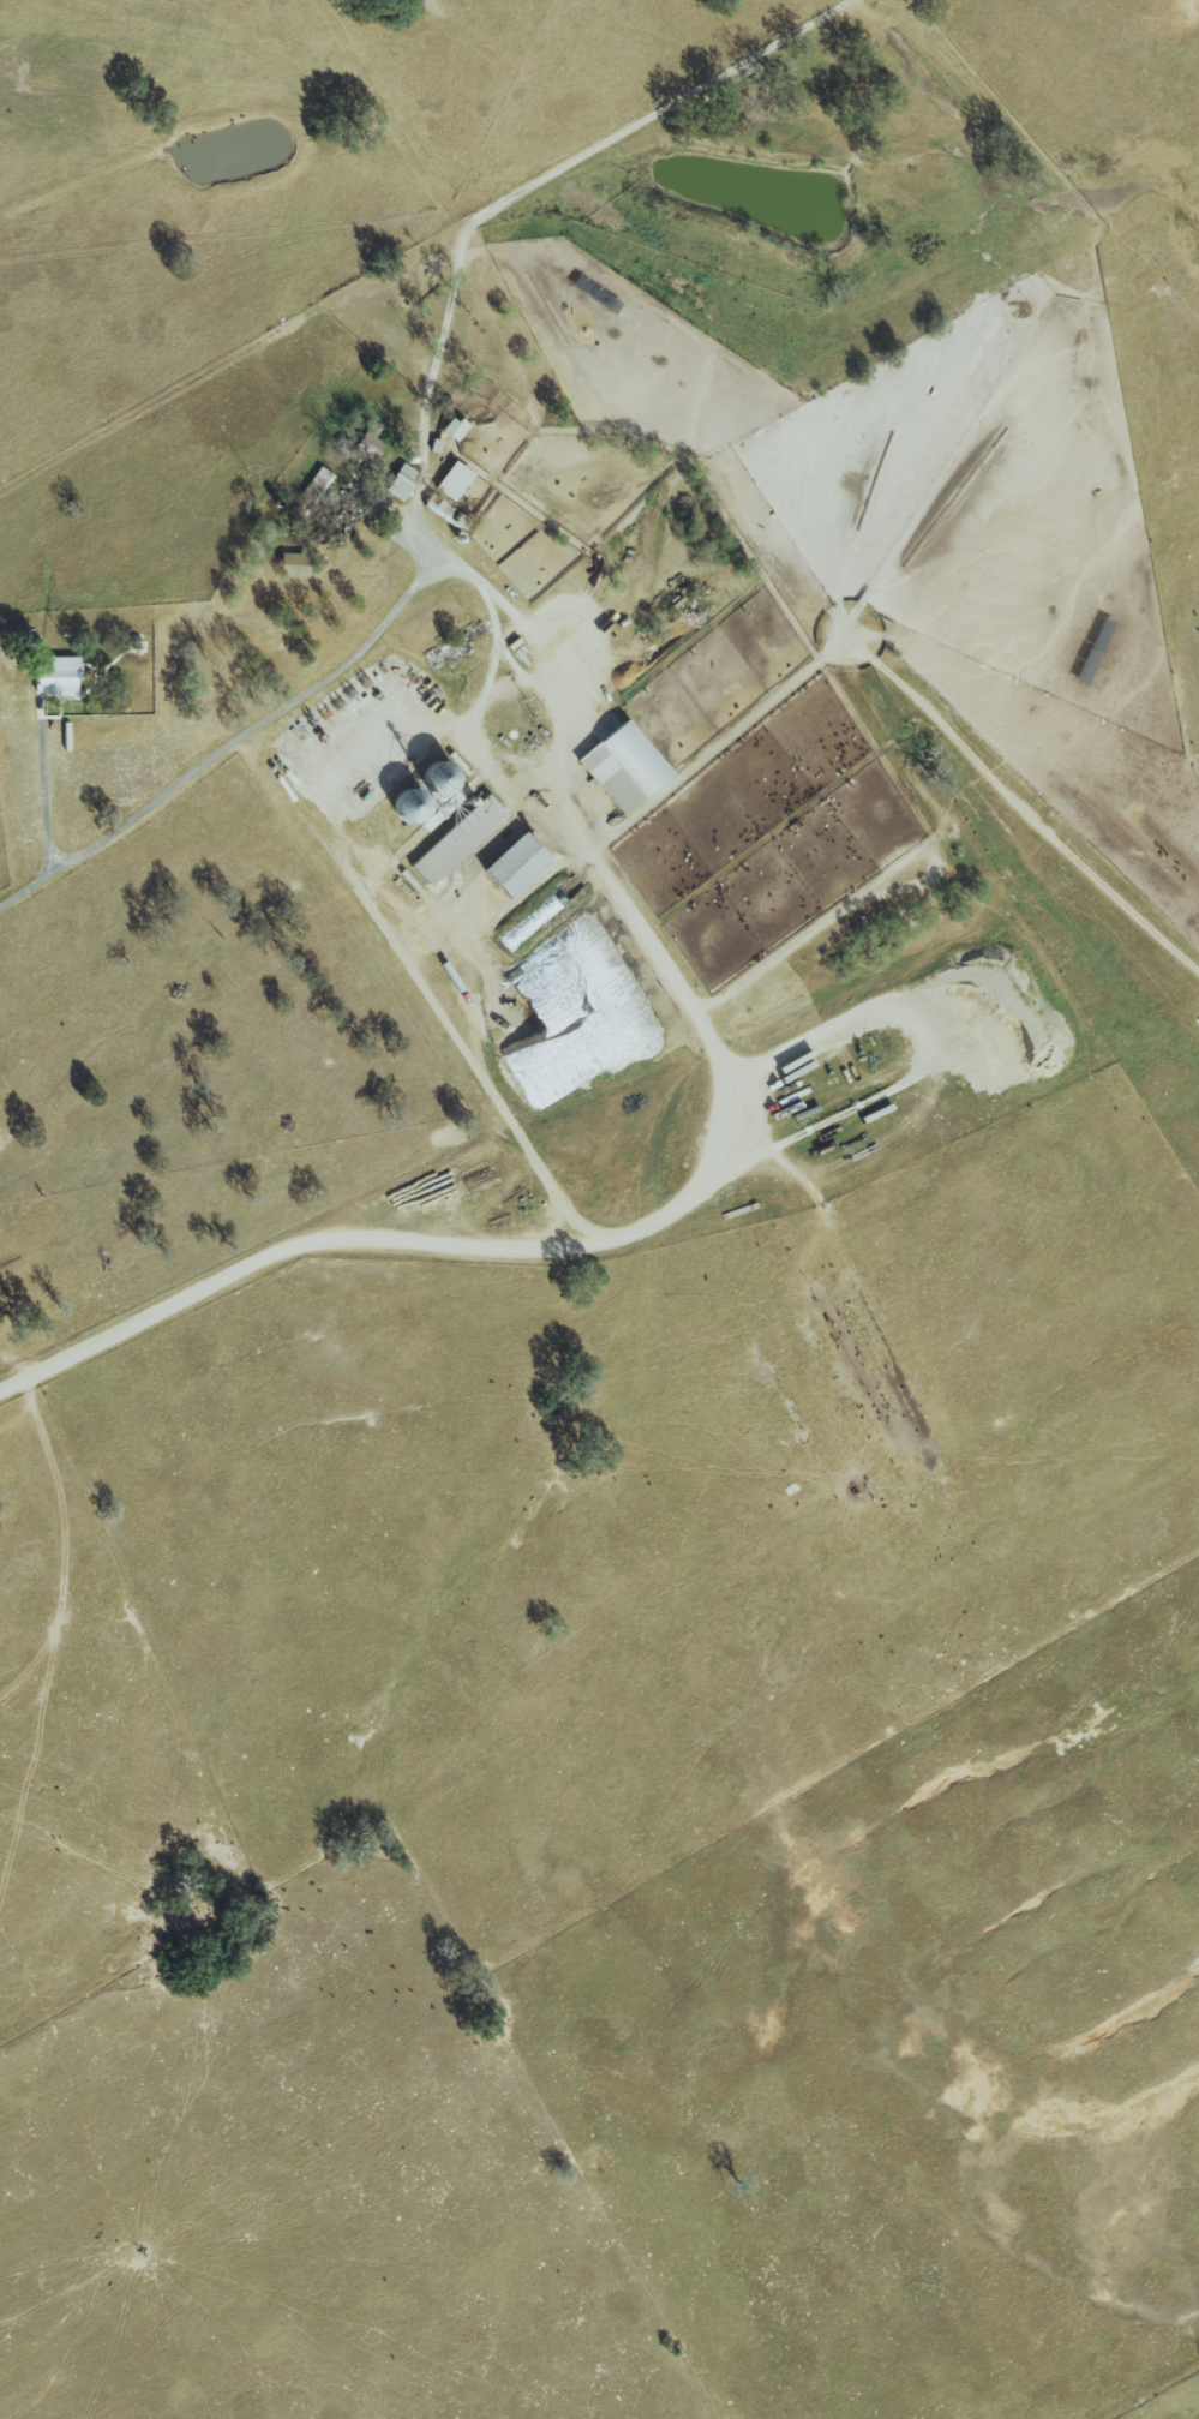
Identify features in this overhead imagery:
building: (451, 427)
road: (431, 455)
building: (449, 480)
building: (398, 481)
building: (53, 677)
road: (556, 717)
building: (616, 766)
road: (42, 802)
building: (508, 867)
road: (425, 984)
road: (916, 1067)
road: (504, 1247)

